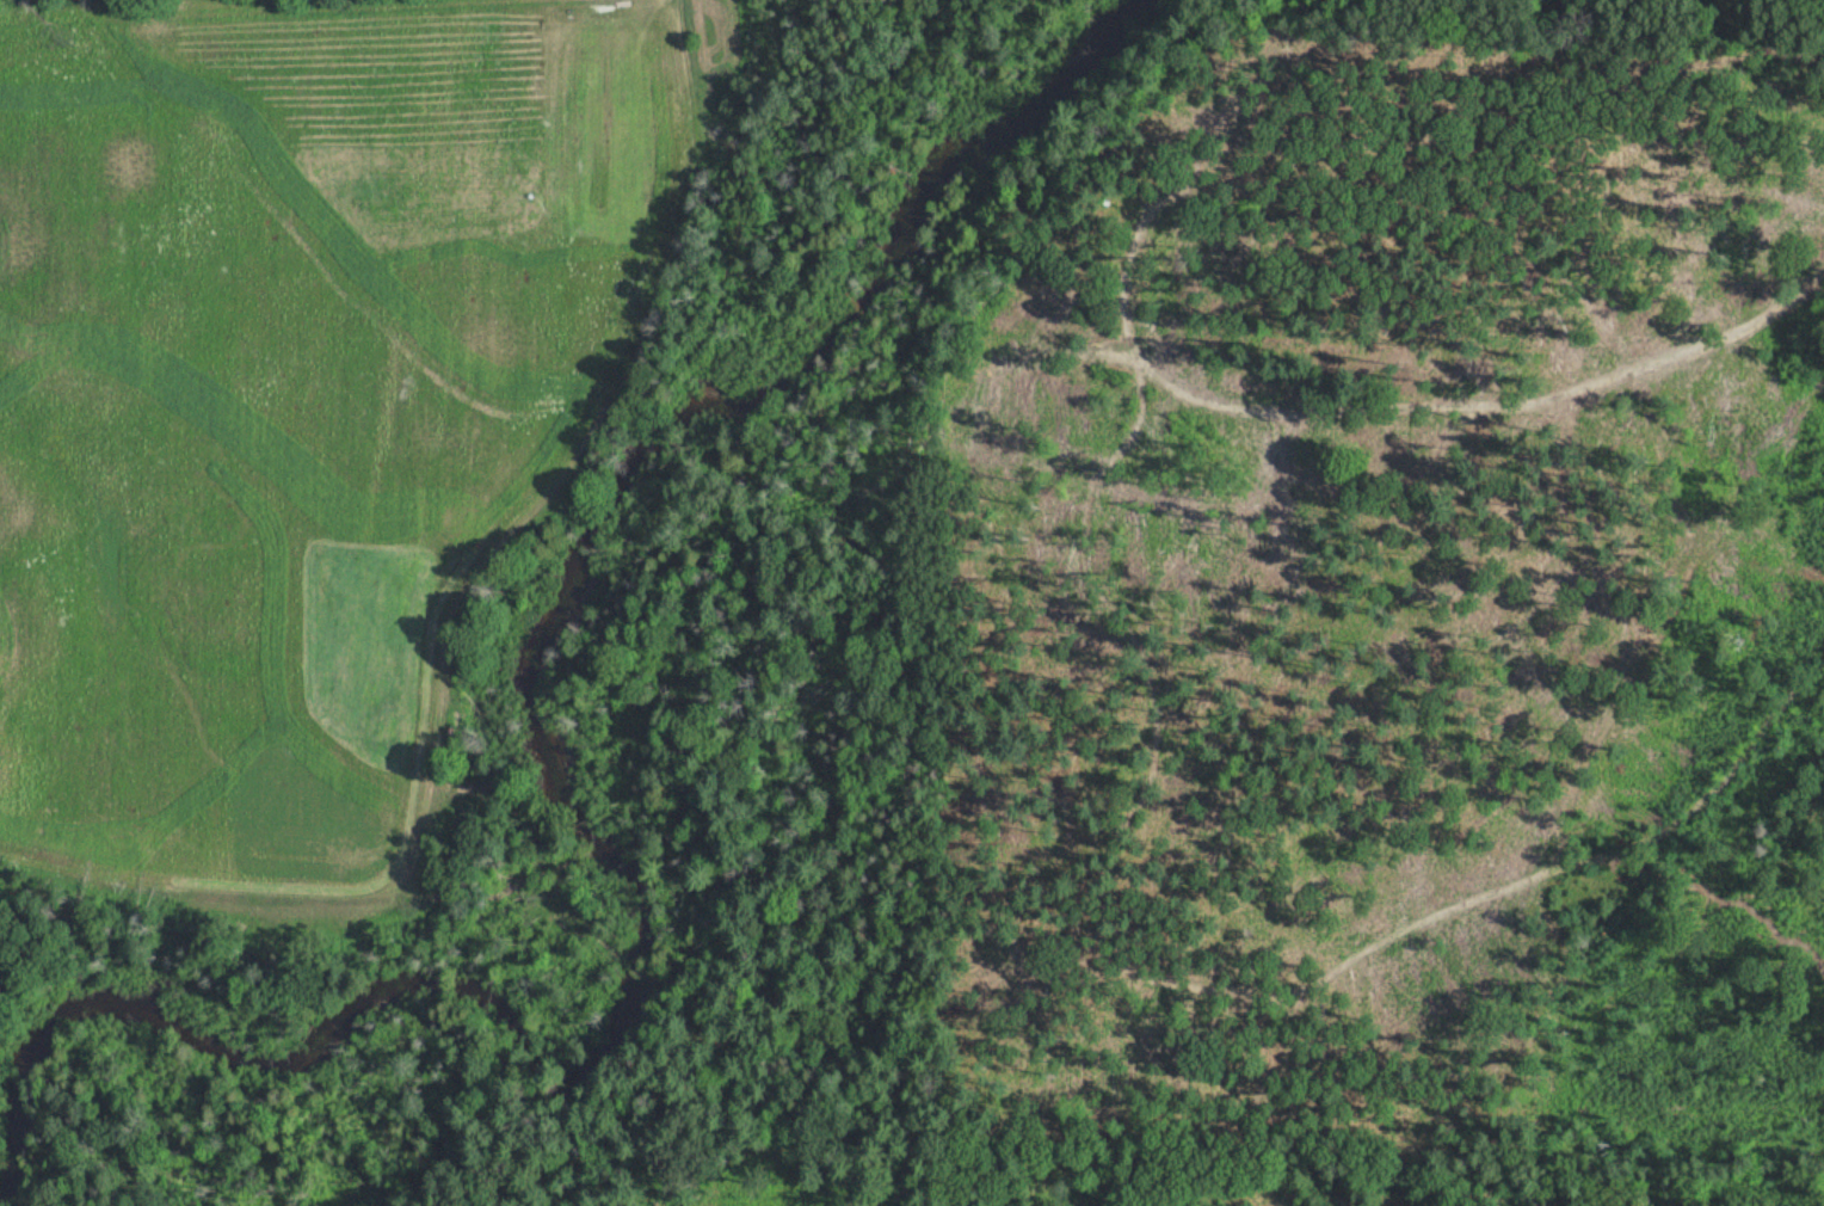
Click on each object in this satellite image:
river: (587, 811)

